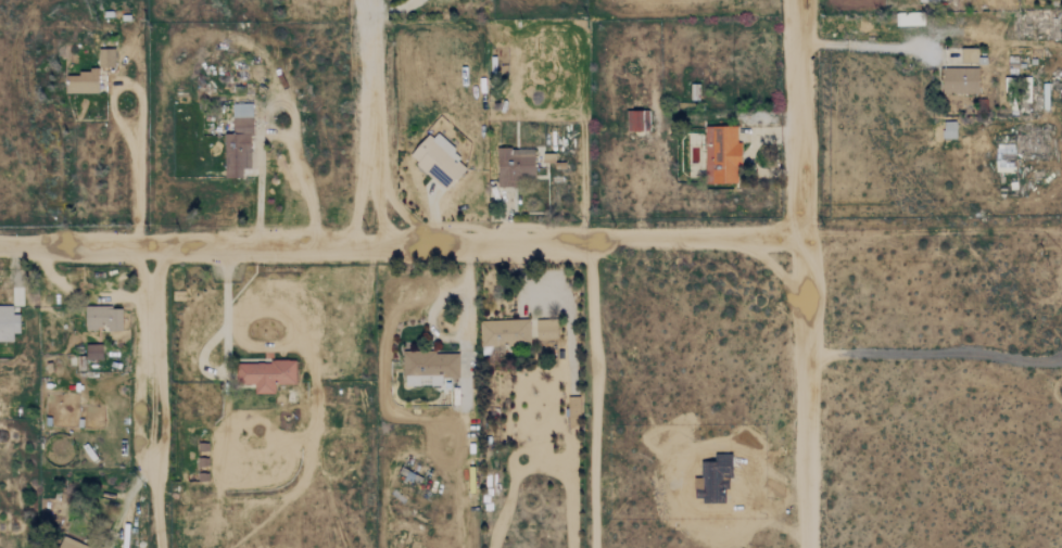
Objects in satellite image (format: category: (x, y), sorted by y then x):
building: (909, 17)
road: (932, 36)
building: (969, 54)
building: (106, 56)
building: (959, 79)
building: (81, 81)
road: (278, 103)
road: (142, 112)
building: (634, 120)
road: (380, 125)
building: (949, 129)
building: (238, 141)
building: (721, 154)
road: (960, 154)
building: (1004, 157)
building: (439, 161)
building: (514, 165)
road: (934, 228)
road: (402, 251)
road: (157, 273)
road: (806, 273)
building: (103, 317)
building: (8, 322)
building: (545, 329)
building: (504, 332)
building: (93, 352)
road: (936, 353)
building: (429, 367)
building: (264, 374)
road: (590, 395)
road: (408, 413)
road: (786, 469)

